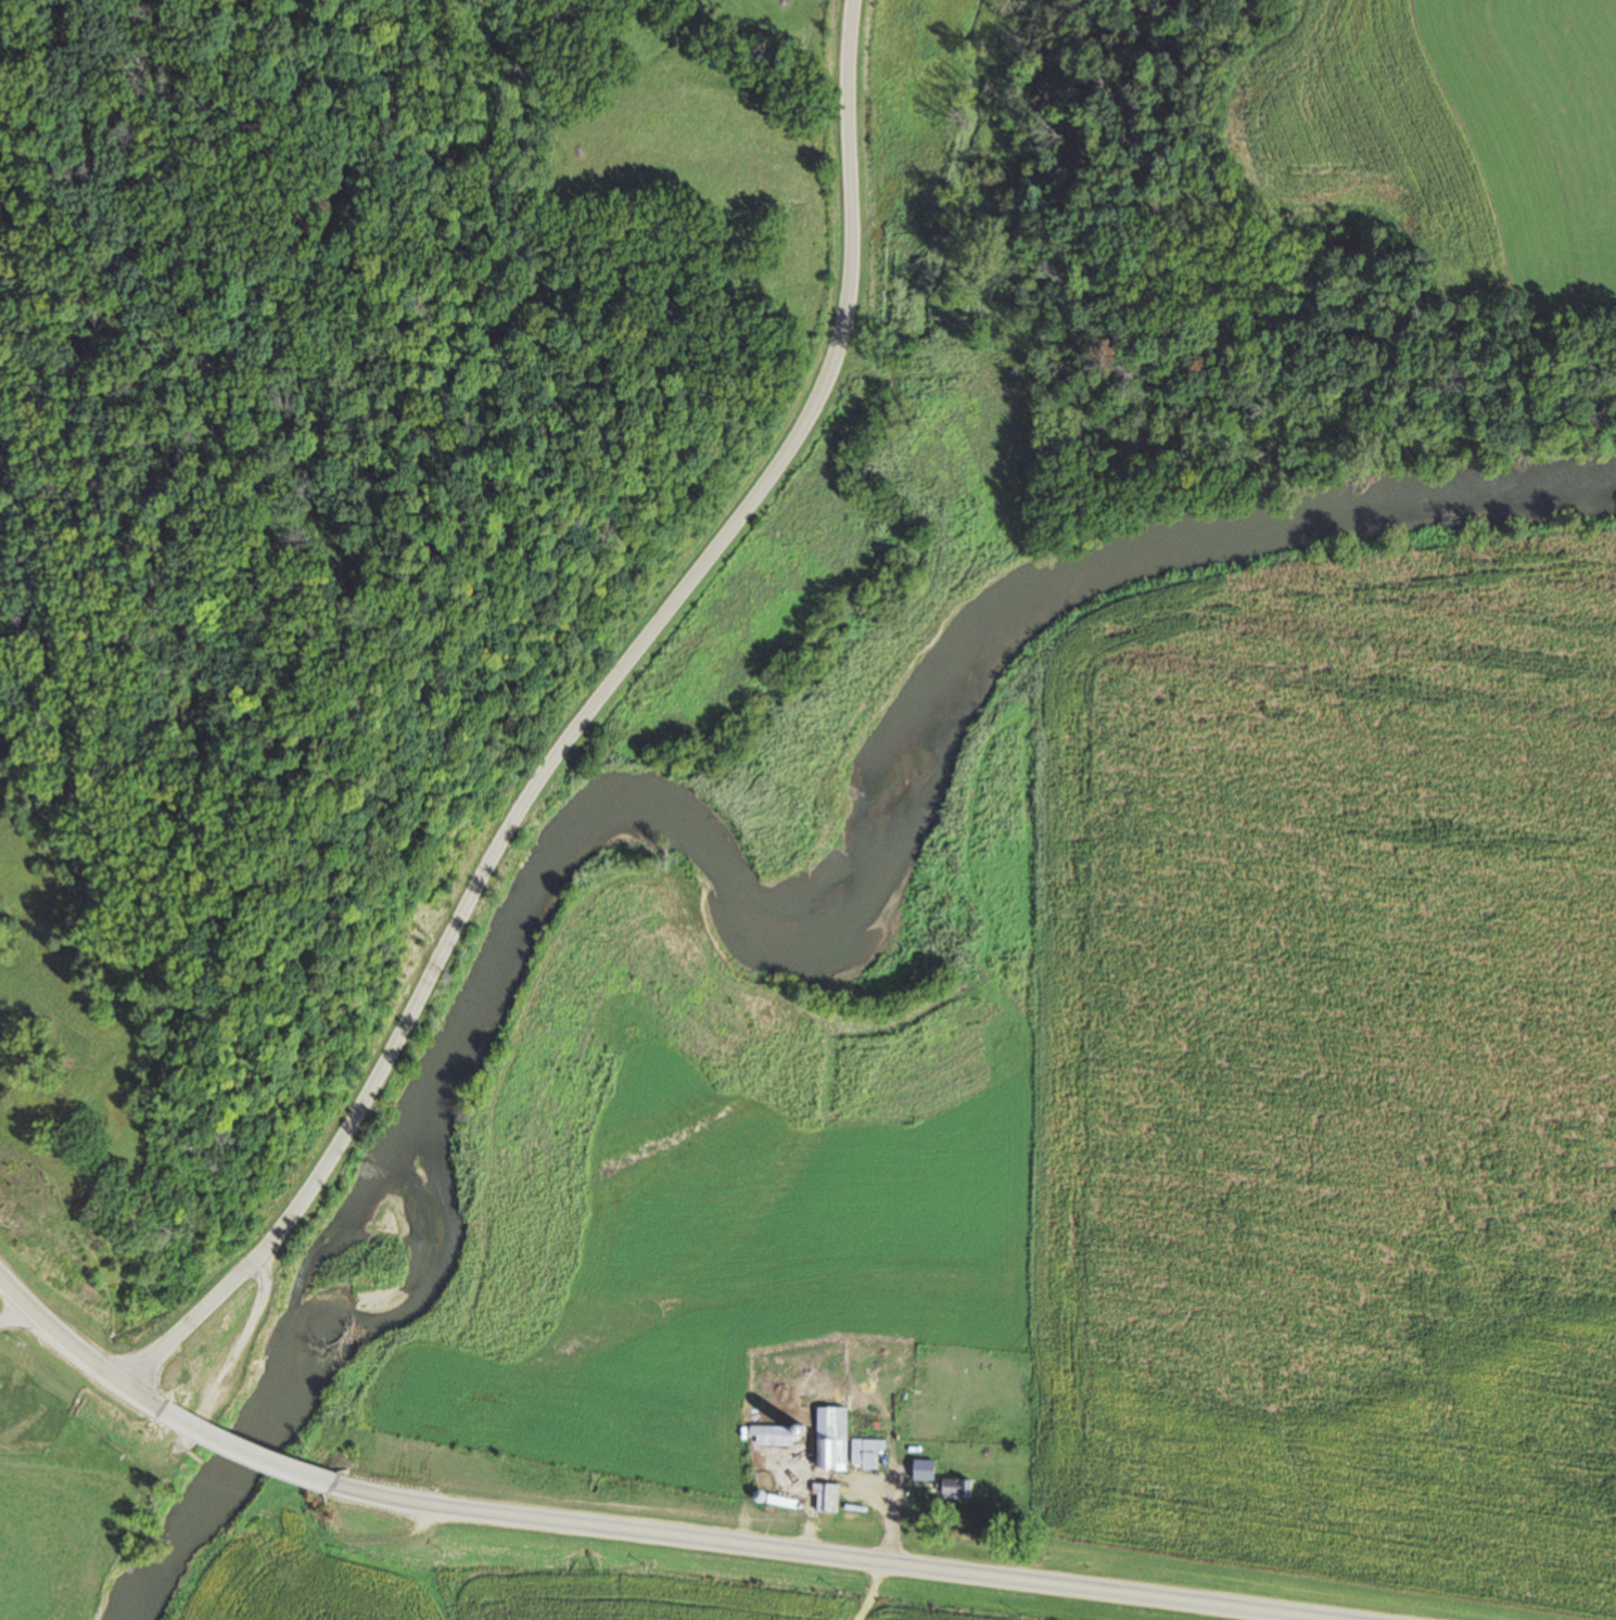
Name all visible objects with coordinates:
road: (569, 727)
river: (749, 903)
road: (11, 1312)
road: (82, 1358)
building: (774, 1436)
building: (830, 1438)
building: (865, 1454)
road: (262, 1455)
building: (920, 1470)
building: (954, 1489)
building: (826, 1497)
road: (832, 1555)

